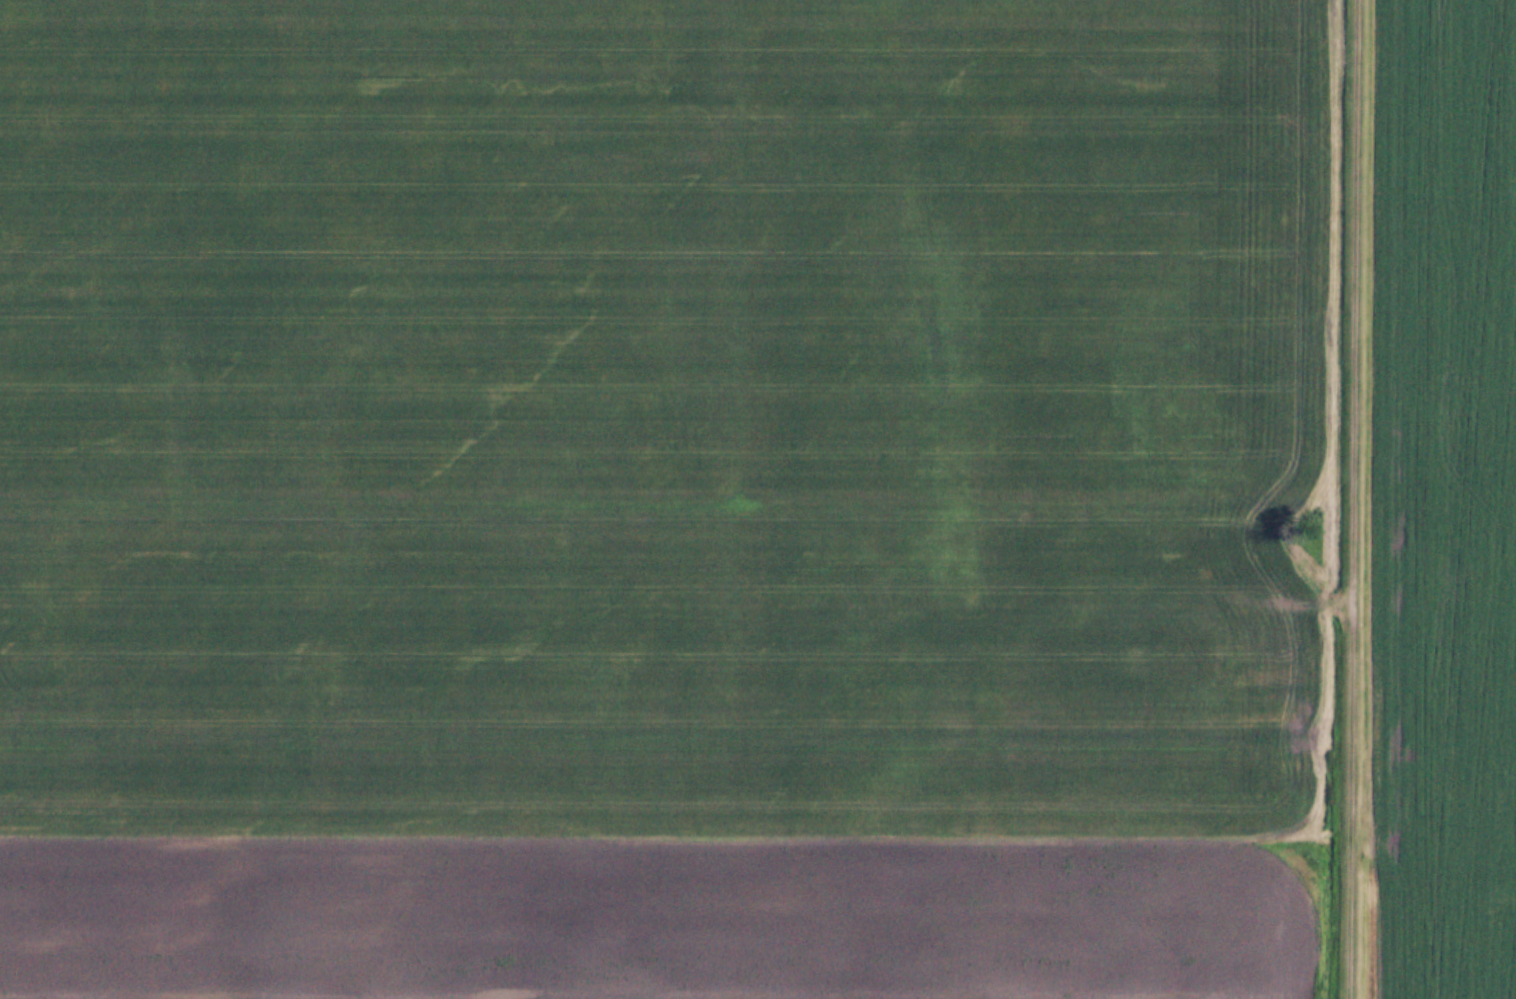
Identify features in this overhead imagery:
road: (1354, 499)

